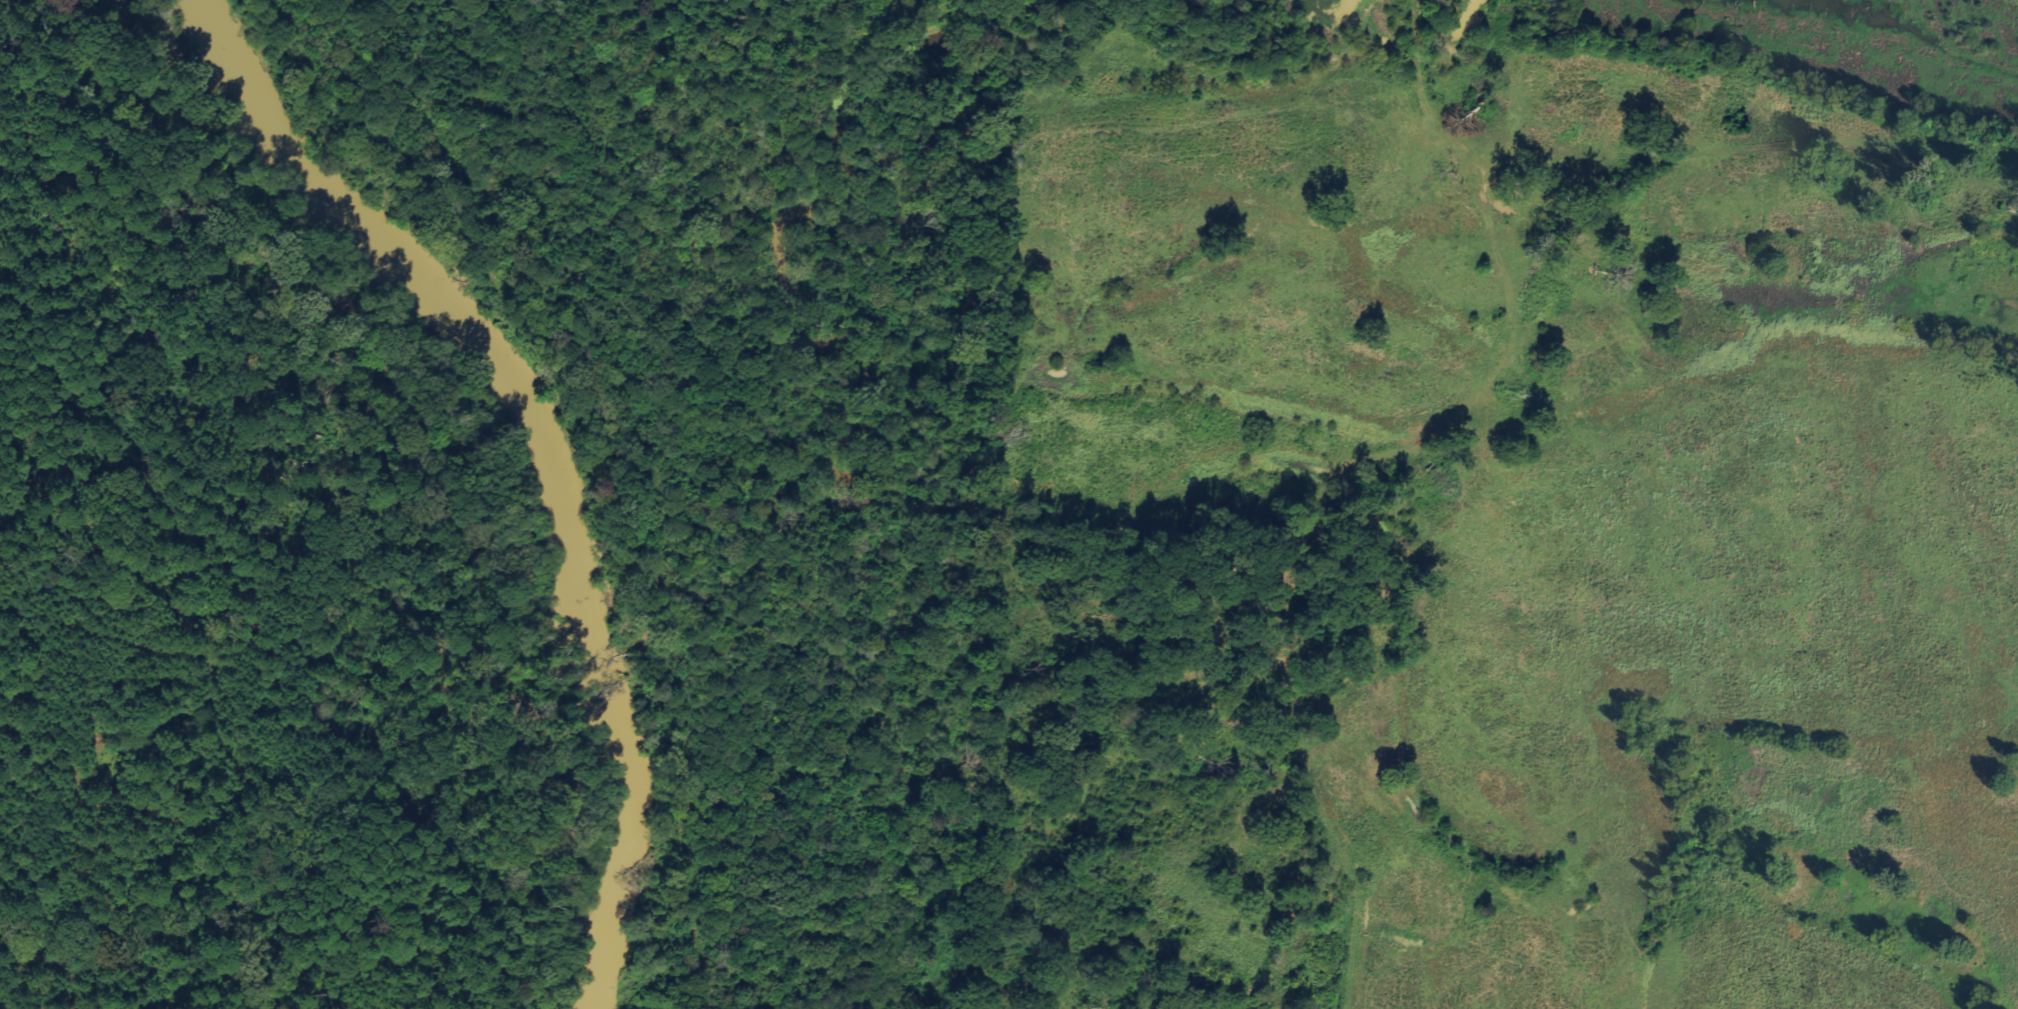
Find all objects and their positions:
road: (386, 139)

